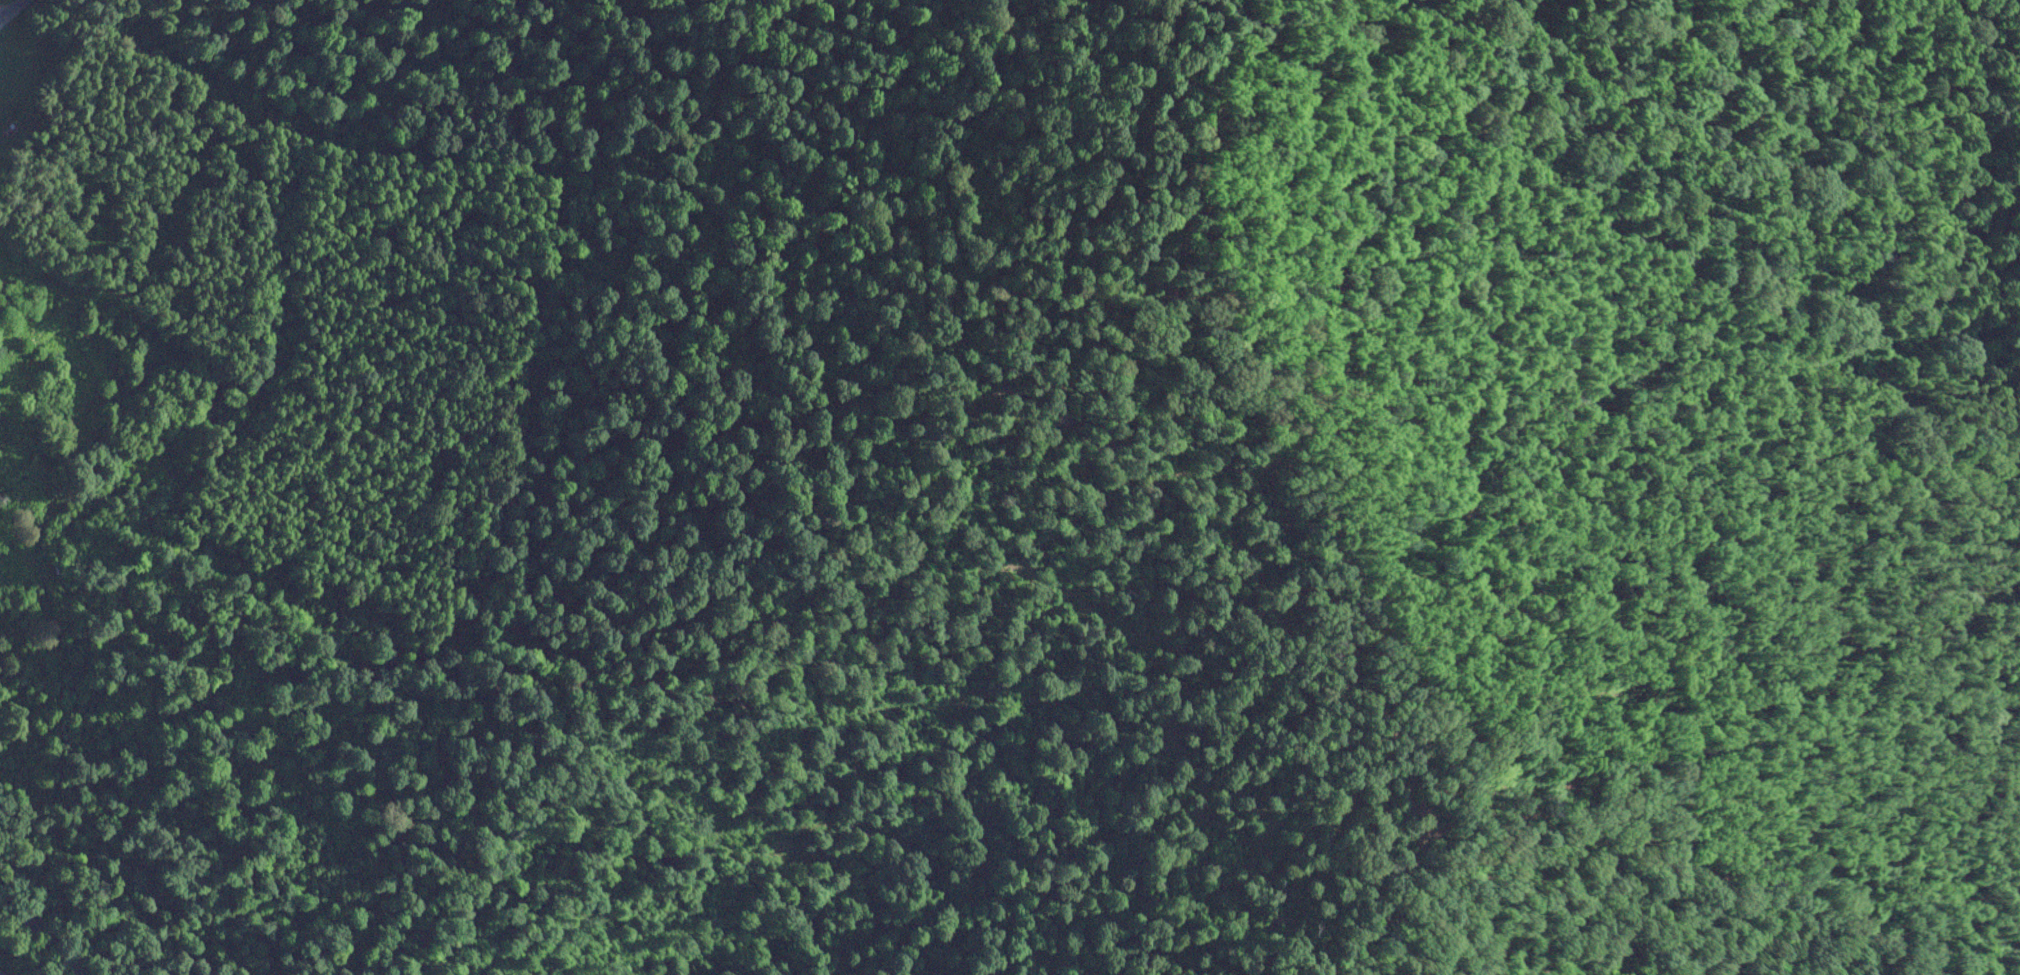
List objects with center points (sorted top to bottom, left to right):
road: (6, 7)
road: (55, 919)

